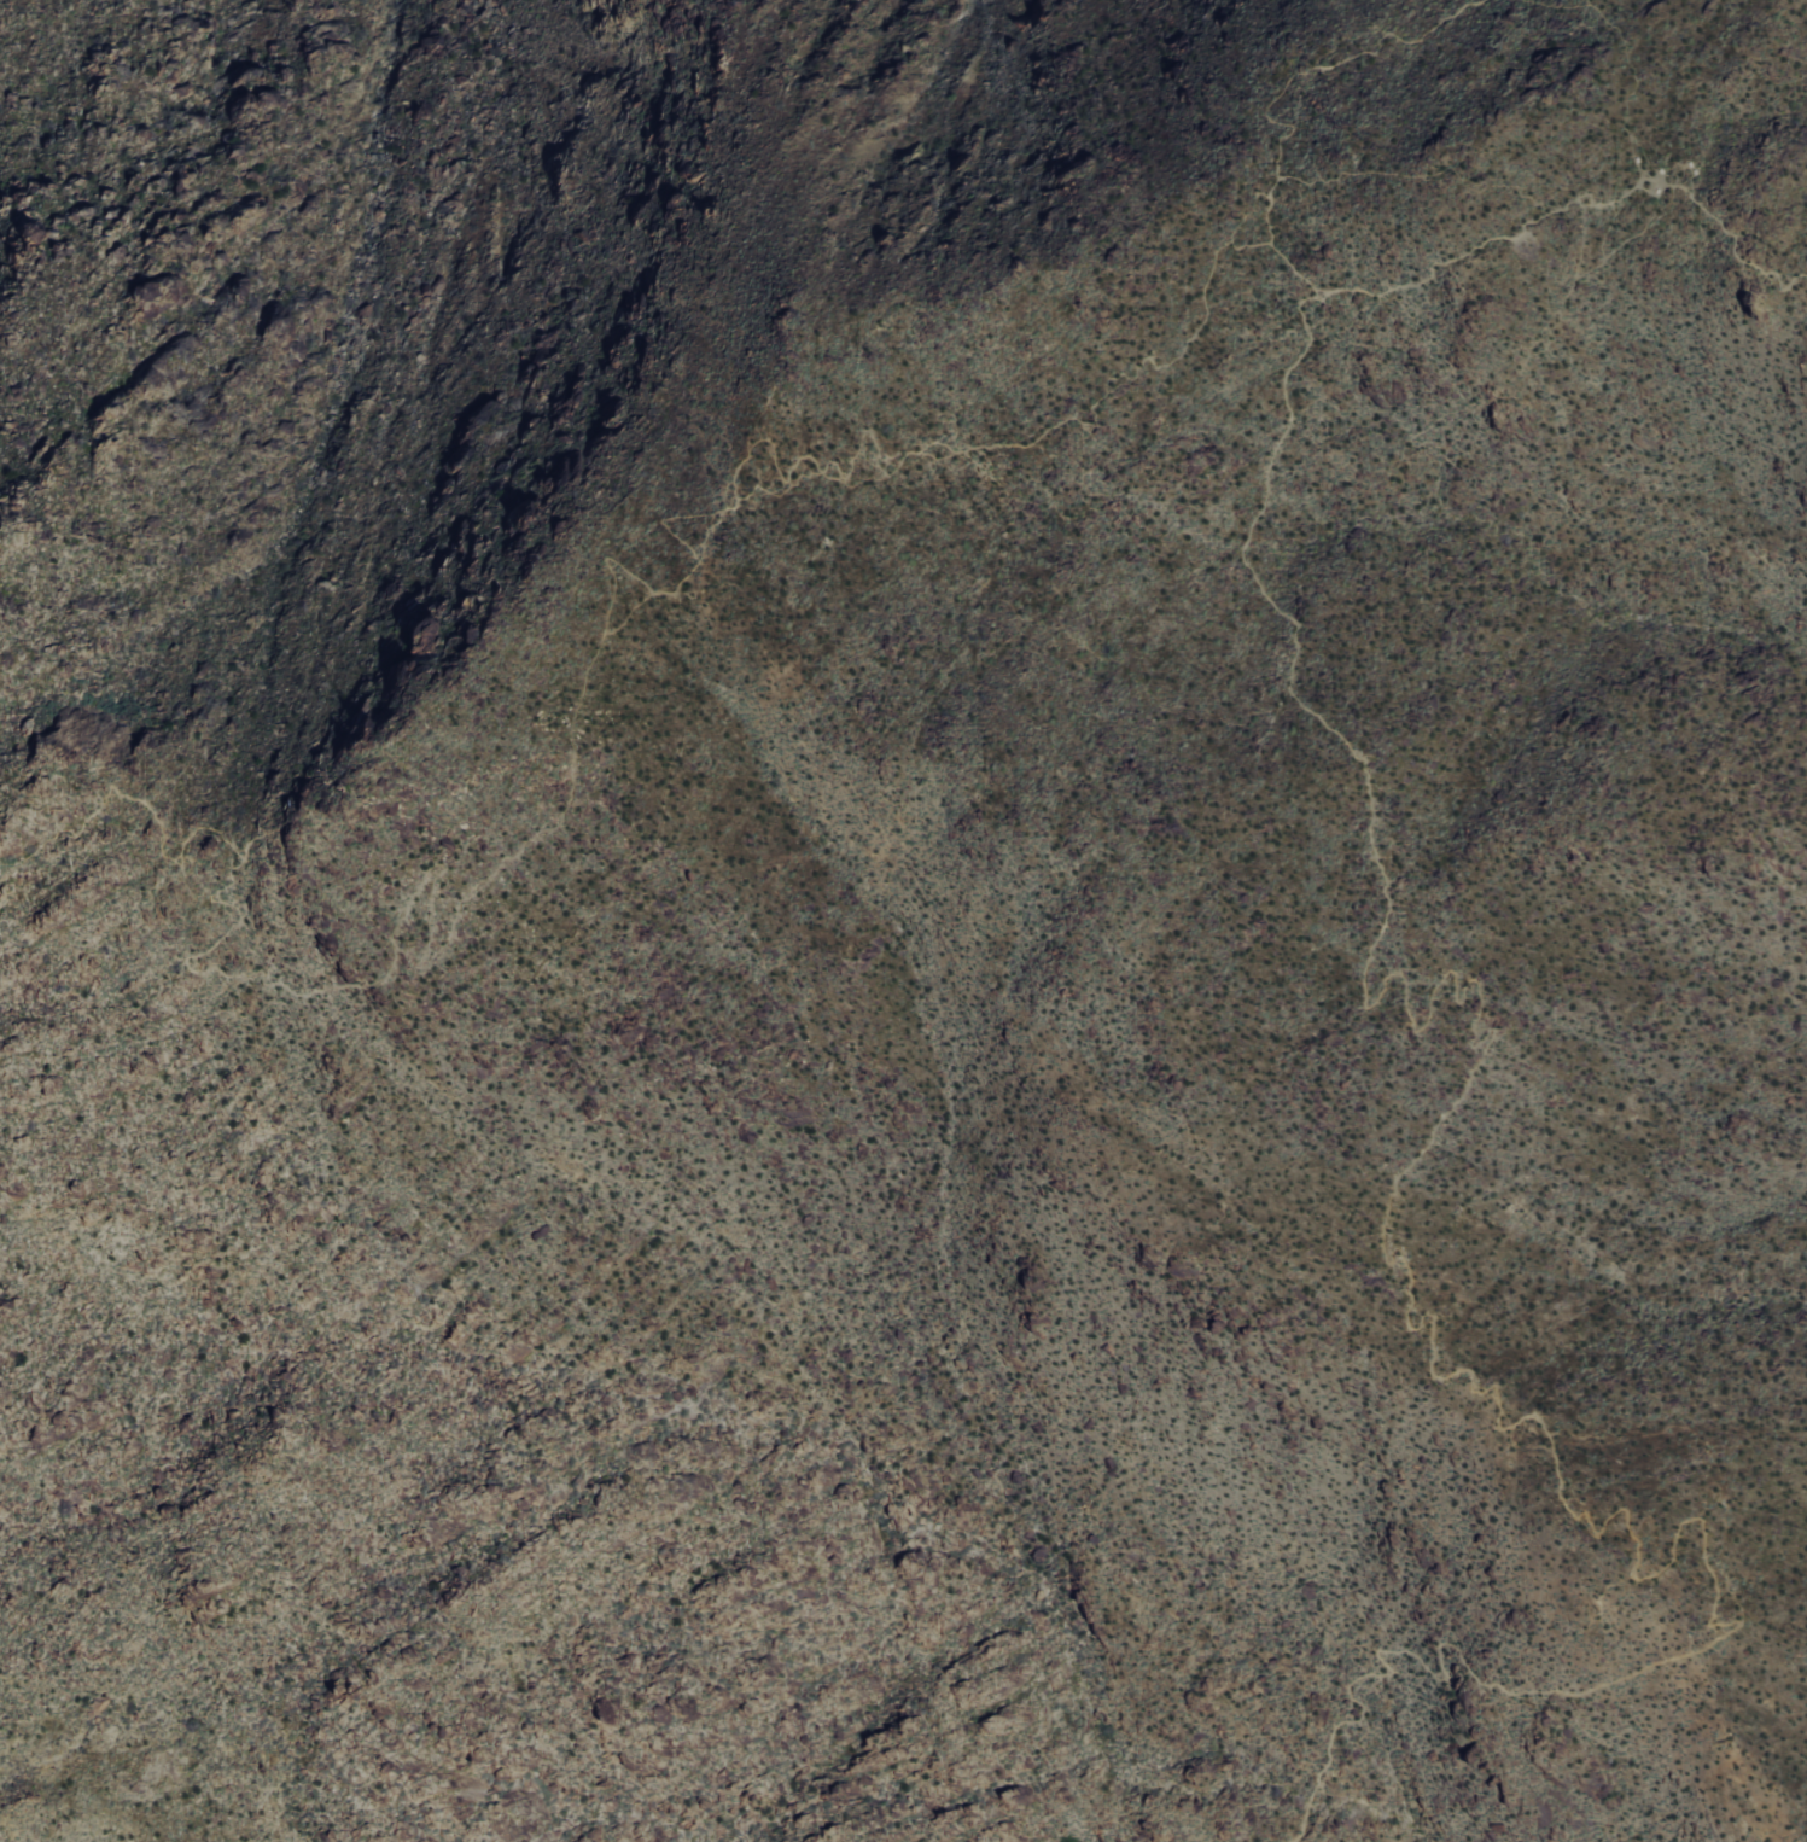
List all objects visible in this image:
road: (1627, 58)
road: (1325, 63)
road: (1348, 170)
road: (1252, 249)
road: (734, 490)
road: (782, 491)
road: (722, 506)
road: (666, 519)
road: (626, 616)
road: (1407, 1294)

